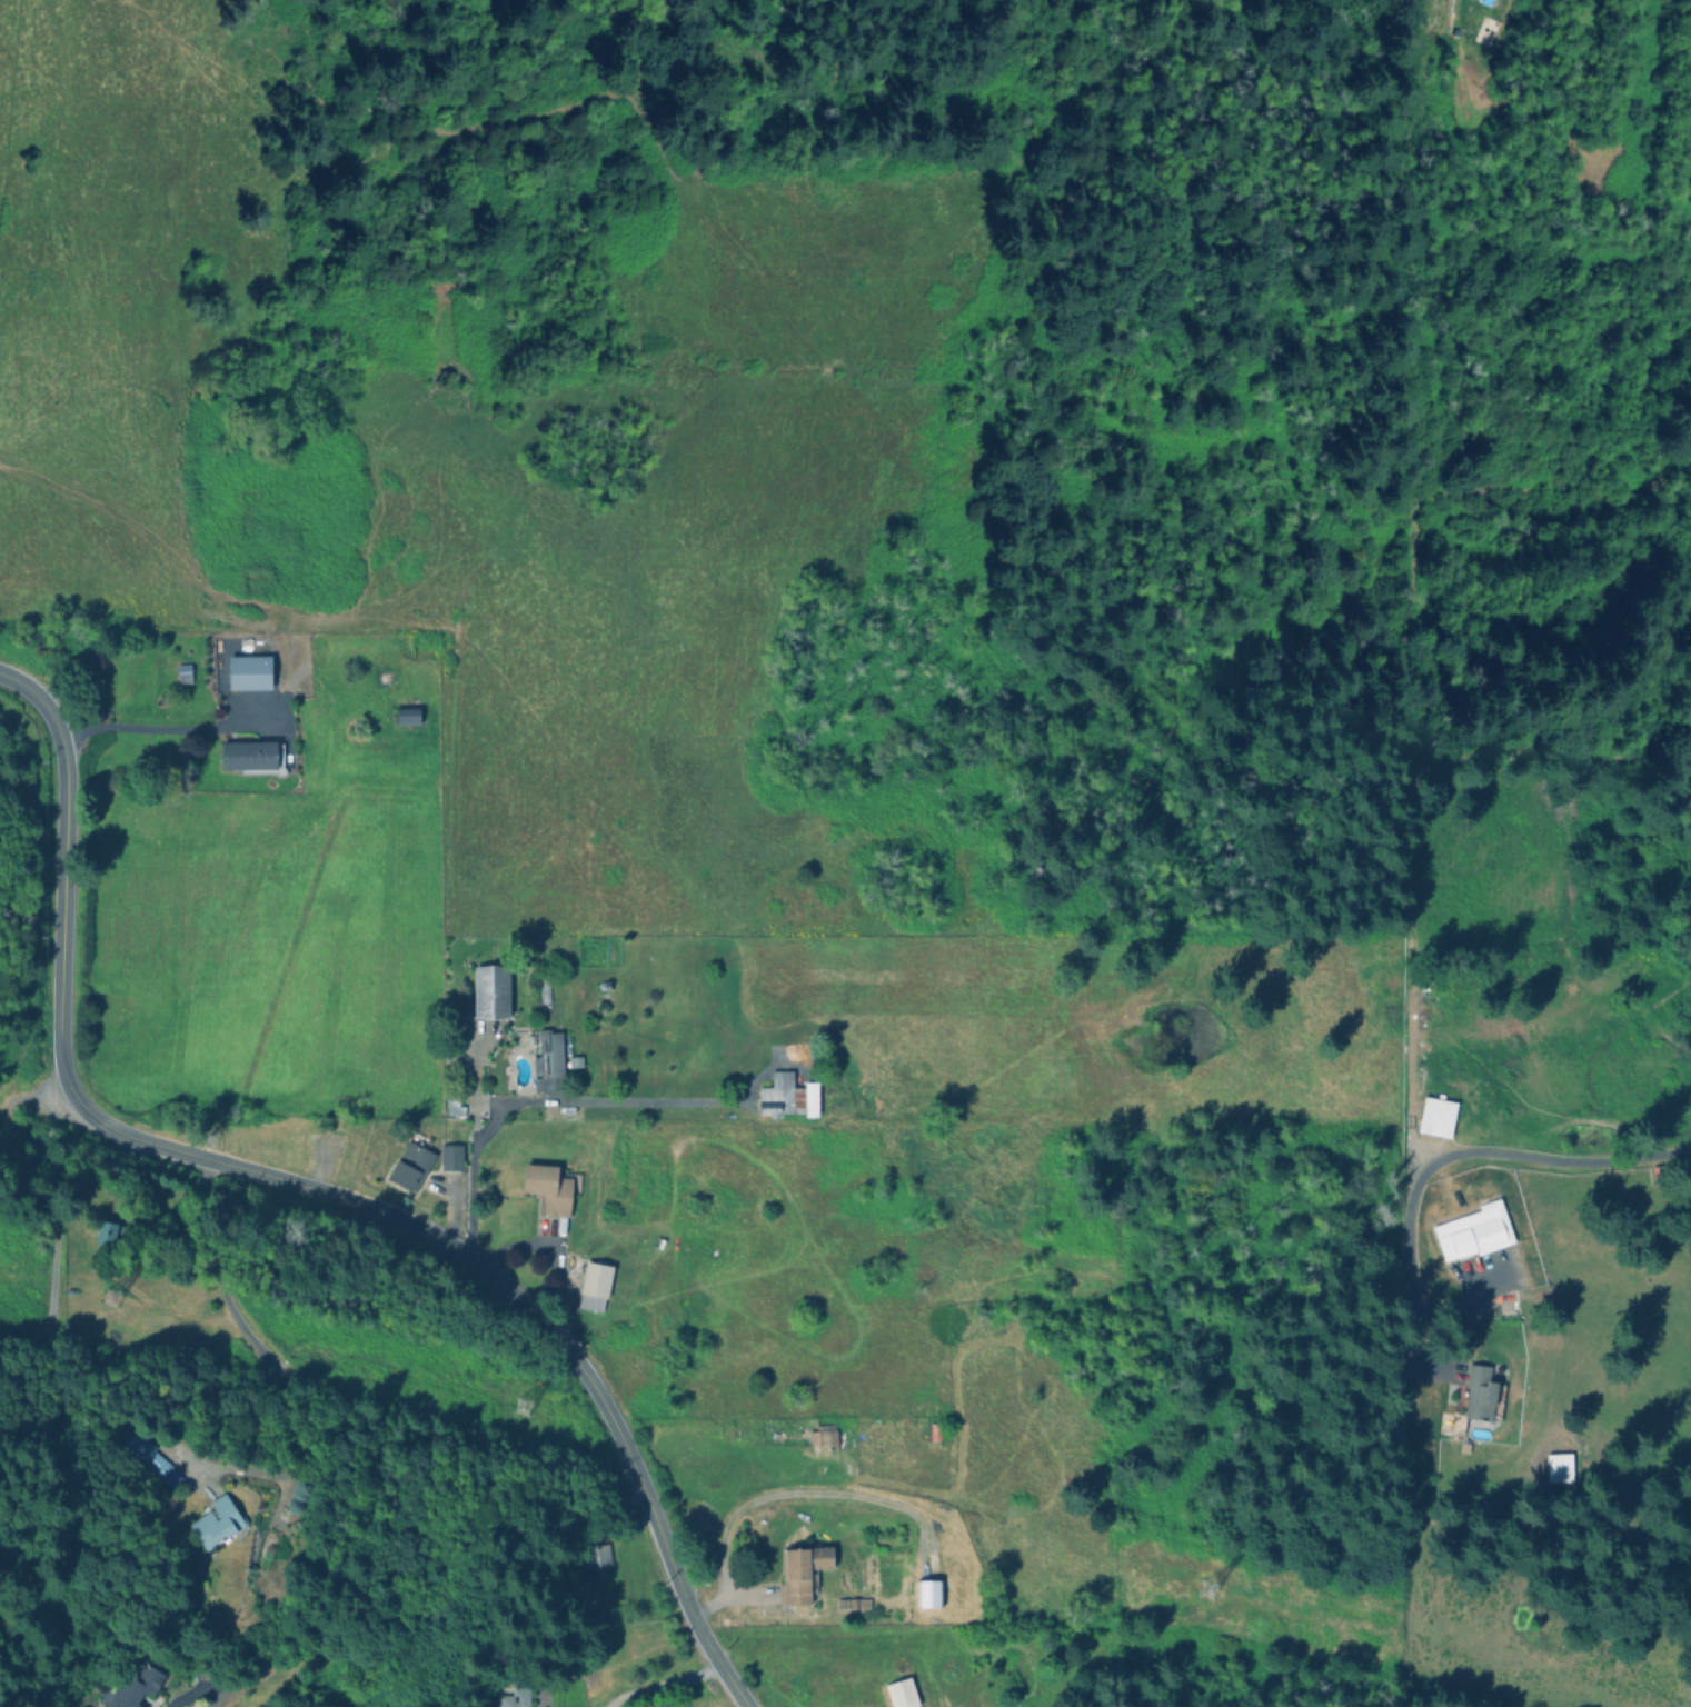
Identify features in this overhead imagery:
building: (248, 671)
building: (182, 672)
road: (28, 683)
building: (406, 715)
road: (141, 728)
building: (250, 753)
road: (63, 891)
building: (489, 991)
building: (786, 1096)
road: (534, 1098)
building: (452, 1105)
building: (1434, 1116)
road: (1464, 1151)
building: (450, 1156)
building: (408, 1165)
road: (53, 1178)
building: (546, 1188)
building: (105, 1231)
building: (1473, 1231)
road: (504, 1285)
building: (593, 1286)
power tower: (106, 1305)
building: (1478, 1392)
power tower: (513, 1416)
road: (342, 1426)
building: (828, 1436)
building: (147, 1455)
building: (216, 1521)
building: (594, 1559)
building: (799, 1571)
power tower: (1201, 1597)
building: (852, 1603)
road: (664, 1683)
building: (135, 1687)
road: (199, 1688)
building: (899, 1693)
building: (515, 1697)

